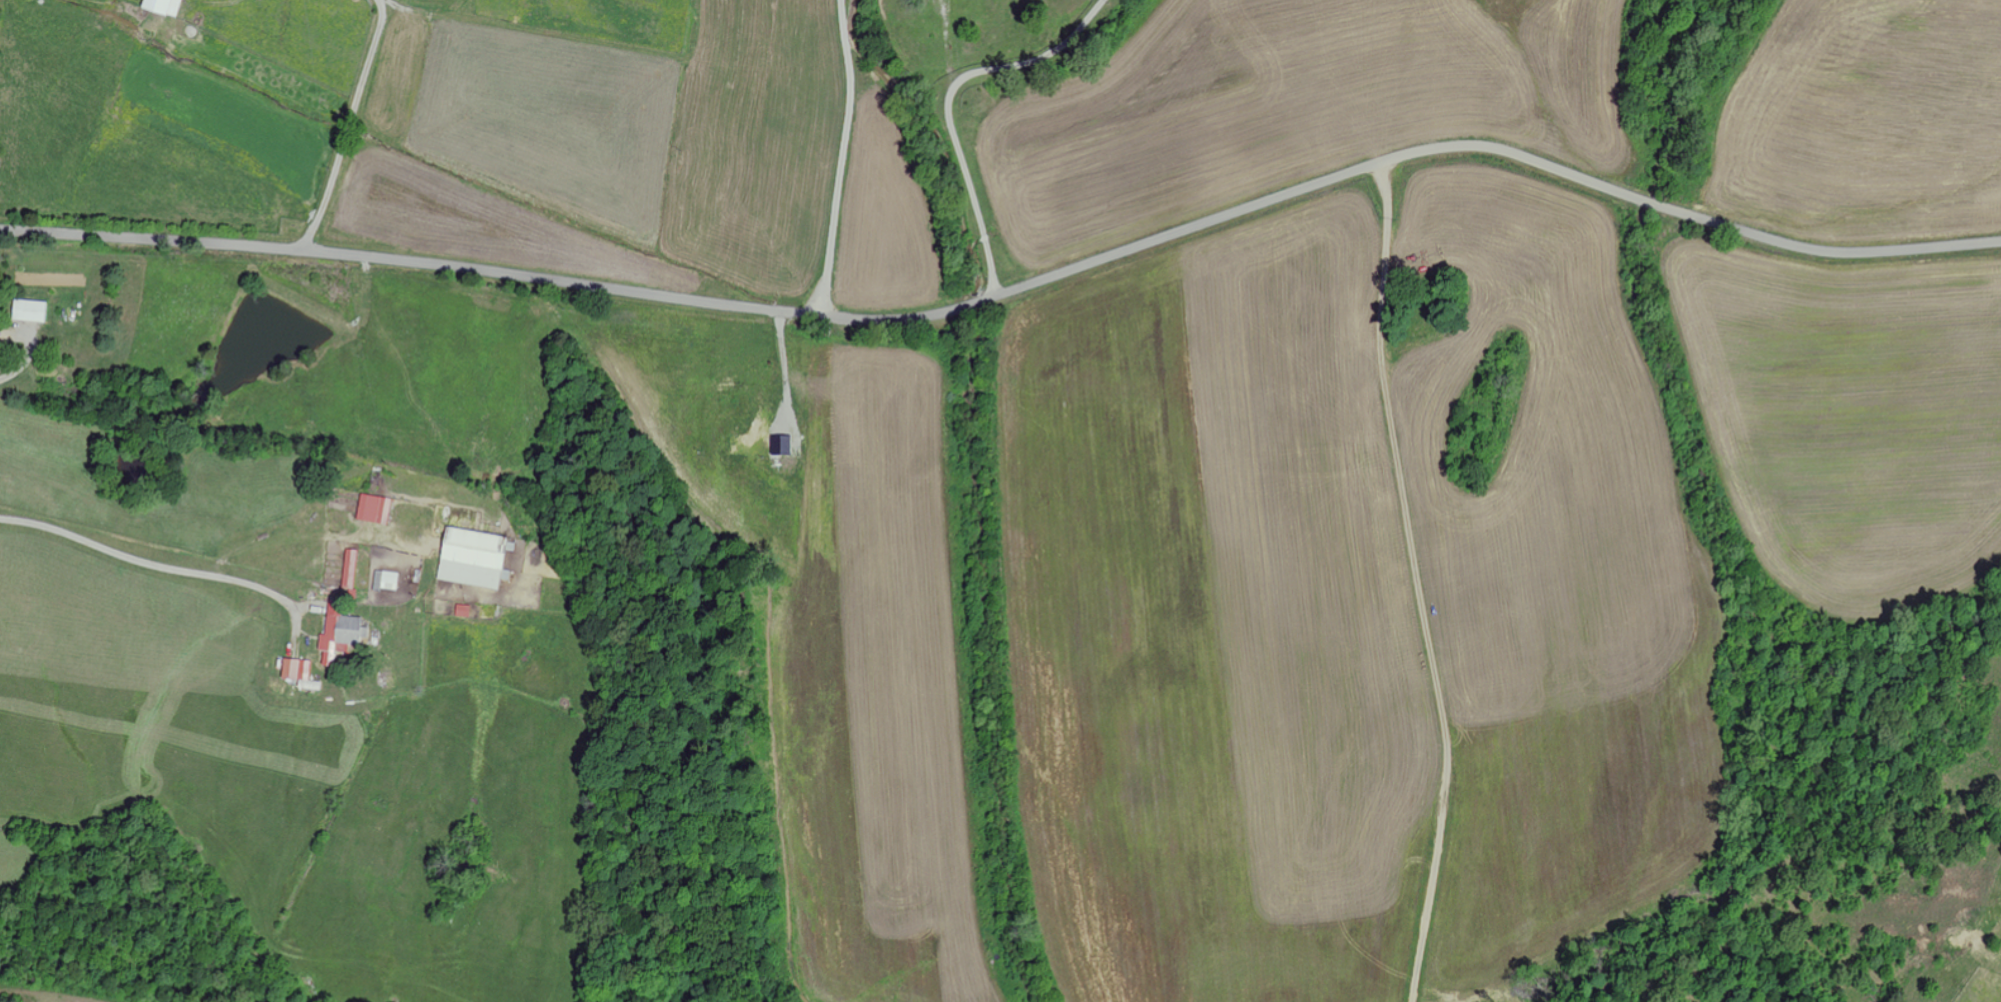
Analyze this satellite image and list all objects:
building: (162, 7)
road: (360, 108)
road: (1087, 116)
road: (1483, 147)
road: (488, 271)
building: (29, 311)
building: (373, 508)
building: (472, 557)
road: (150, 563)
building: (349, 569)
building: (385, 579)
building: (298, 672)
road: (1921, 923)

